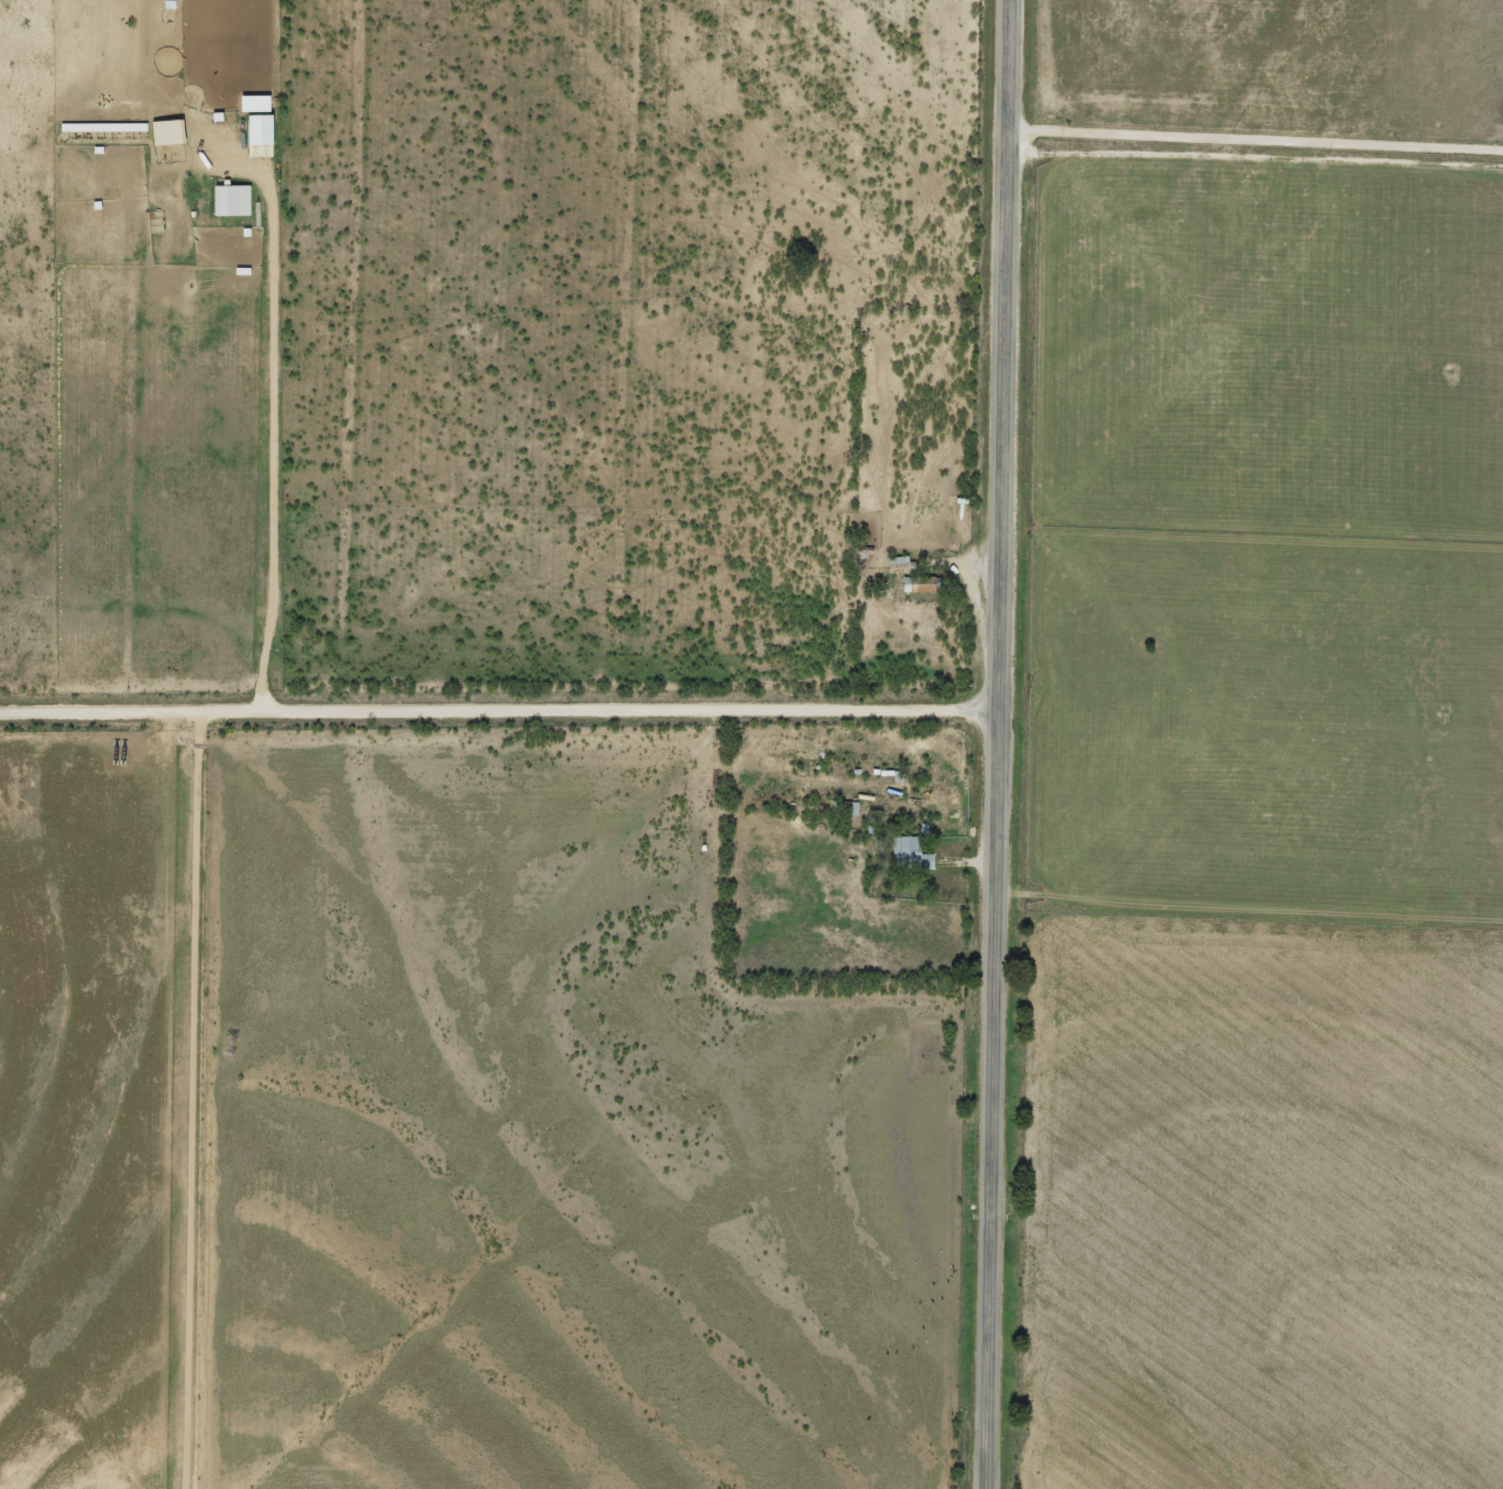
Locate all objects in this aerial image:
road: (1252, 140)
building: (223, 201)
building: (890, 564)
road: (500, 712)
road: (999, 744)
building: (903, 853)

